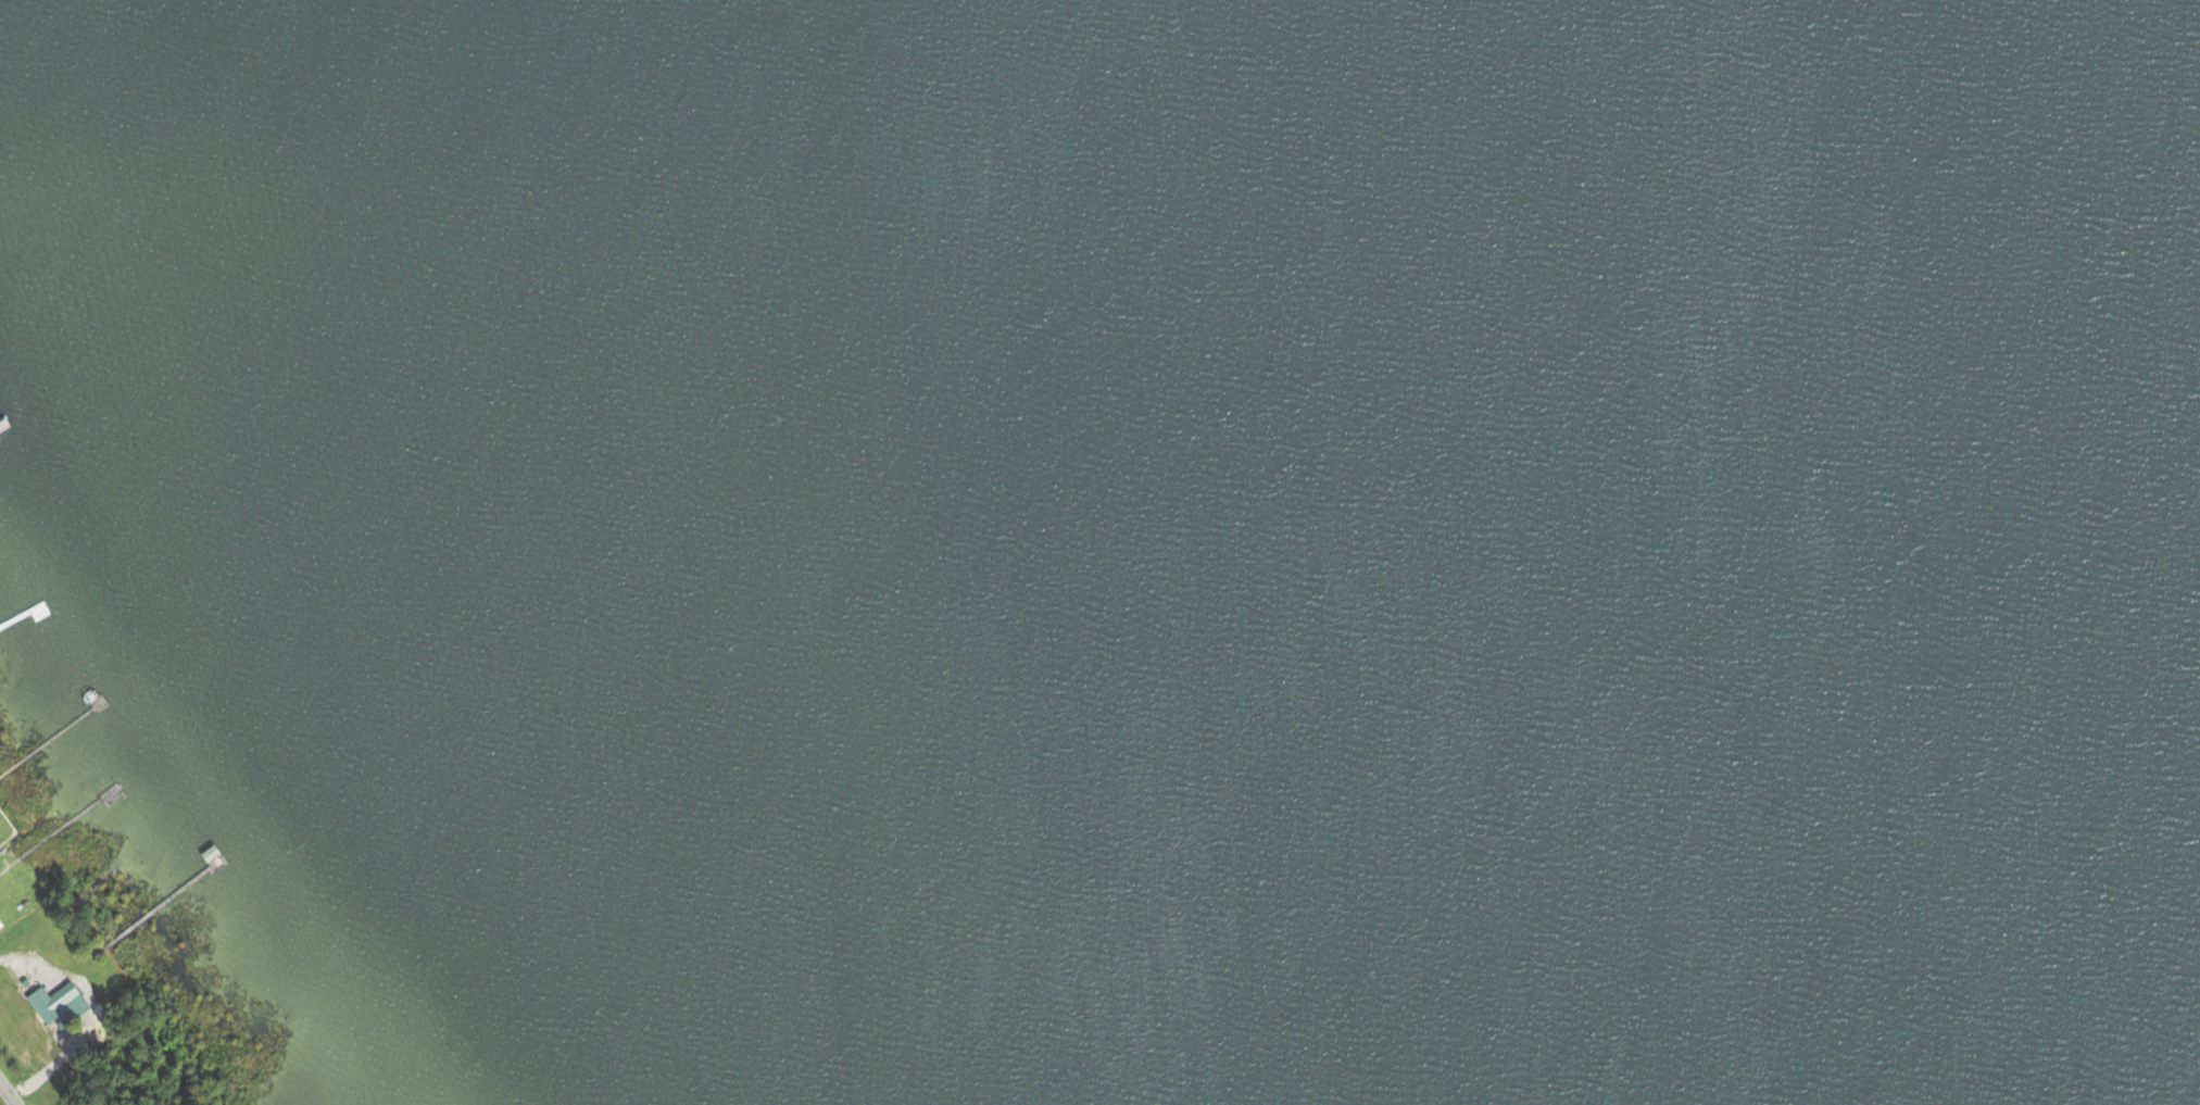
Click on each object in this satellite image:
building: (111, 794)
building: (208, 855)
building: (54, 1004)
road: (8, 1092)

